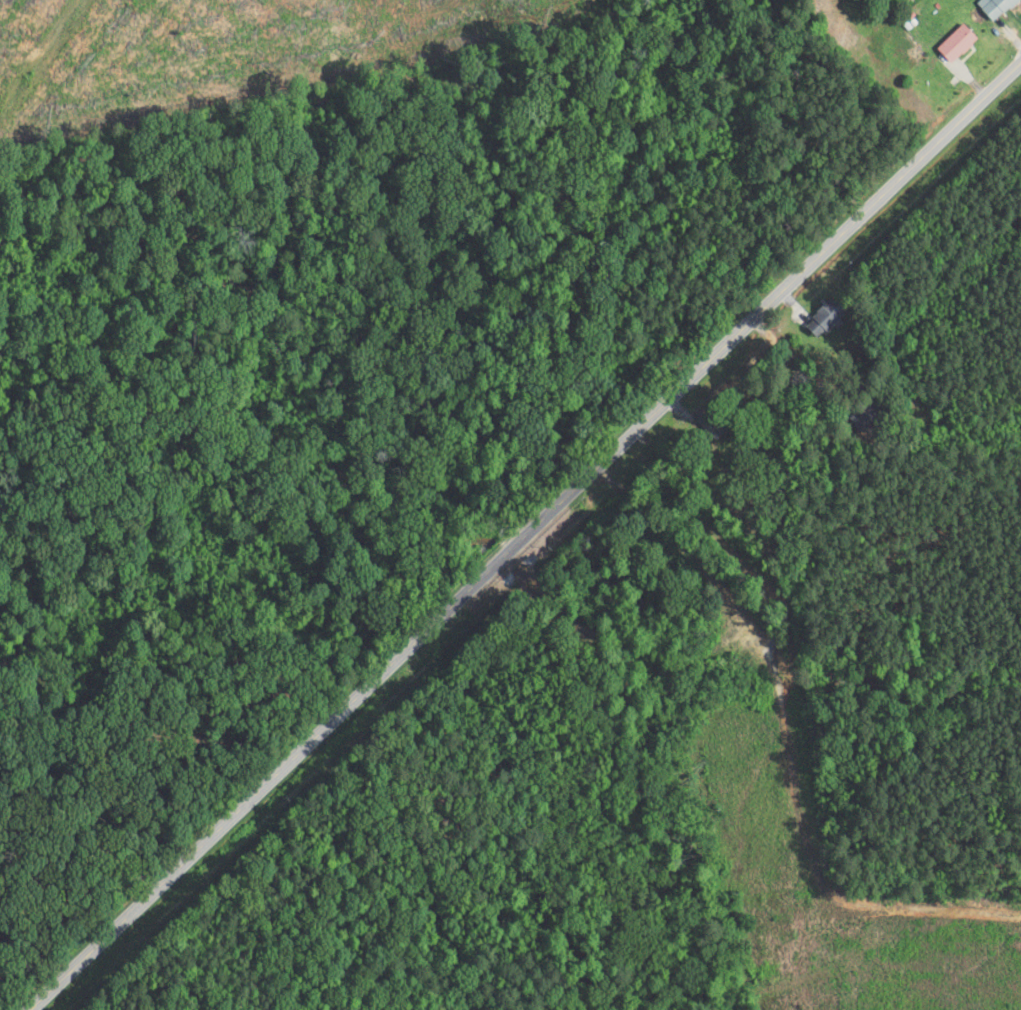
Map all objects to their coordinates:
building: (956, 44)
building: (823, 317)
building: (865, 416)
building: (711, 425)
road: (526, 536)

